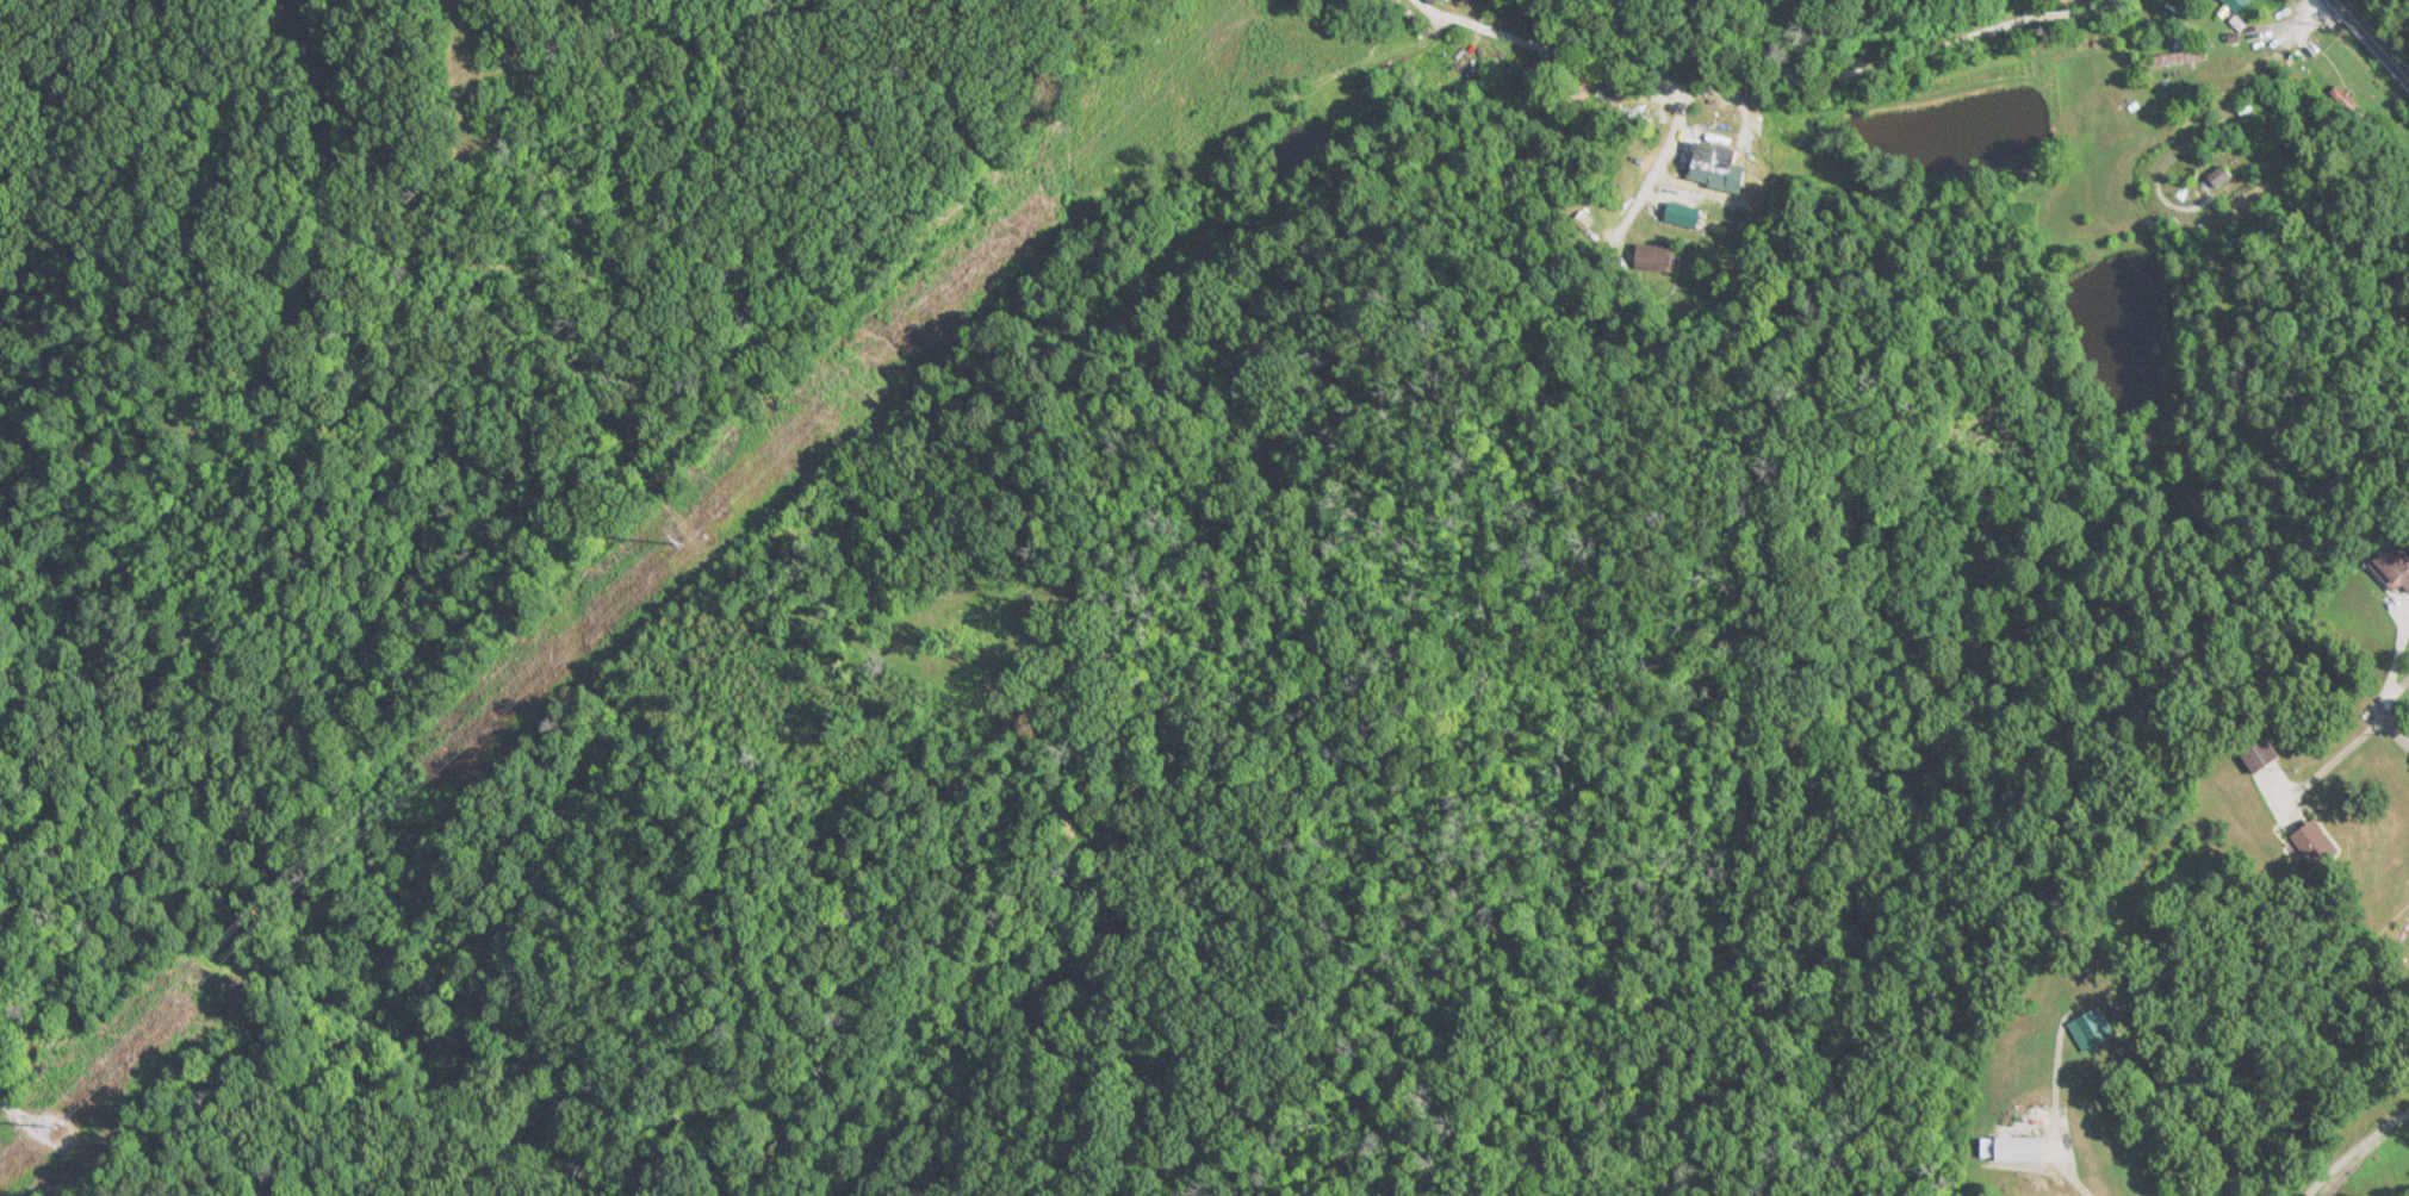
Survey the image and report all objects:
road: (480, 1)
building: (2240, 5)
road: (2371, 39)
road: (1759, 74)
building: (2347, 104)
building: (2191, 118)
building: (1715, 162)
building: (2221, 175)
power tower: (681, 541)
building: (2395, 567)
road: (2402, 739)
building: (2265, 755)
building: (2317, 843)
building: (2093, 1030)
power tower: (55, 1125)
road: (2352, 1148)
building: (2020, 1150)

